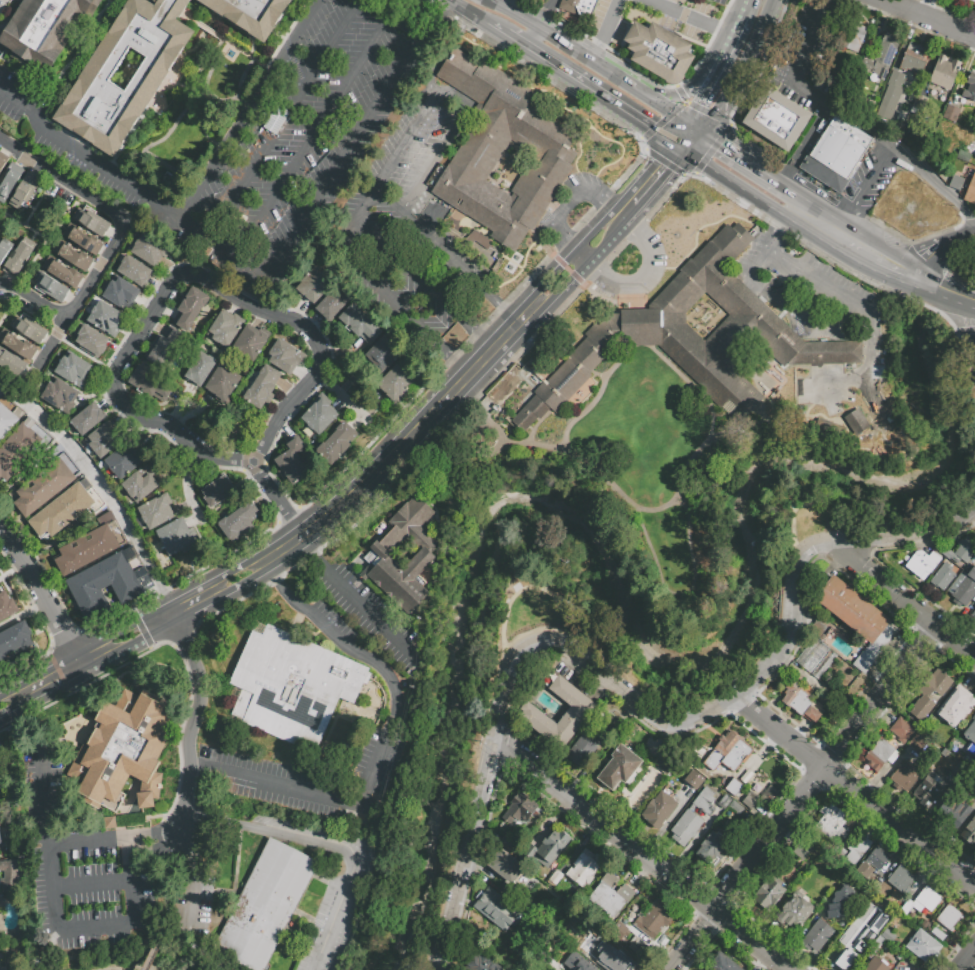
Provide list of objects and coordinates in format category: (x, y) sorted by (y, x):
building: (972, 0)
road: (768, 1)
road: (771, 1)
parking lot: (718, 2)
parking lot: (1, 3)
parking lot: (548, 4)
road: (552, 4)
building: (577, 7)
road: (748, 8)
road: (472, 9)
building: (250, 14)
road: (766, 14)
road: (547, 16)
parking lot: (682, 16)
road: (692, 17)
road: (932, 17)
parking lot: (608, 23)
road: (497, 26)
road: (604, 28)
building: (42, 29)
road: (537, 35)
building: (853, 36)
road: (734, 39)
road: (576, 45)
road: (449, 48)
building: (658, 51)
building: (880, 58)
parking lot: (805, 59)
building: (913, 61)
road: (744, 63)
building: (155, 69)
building: (943, 72)
road: (590, 86)
building: (970, 86)
road: (692, 88)
road: (804, 90)
road: (706, 92)
building: (891, 94)
traffic signals: (700, 104)
road: (670, 109)
road: (252, 110)
building: (949, 112)
road: (715, 115)
road: (286, 120)
building: (773, 121)
traffic signals: (650, 125)
road: (696, 127)
road: (682, 131)
road: (316, 137)
parking lot: (272, 140)
road: (697, 142)
road: (405, 143)
traffic signals: (720, 143)
road: (803, 144)
road: (440, 145)
road: (721, 145)
road: (682, 146)
building: (550, 149)
building: (836, 153)
building: (2, 163)
road: (748, 163)
traffic signals: (672, 171)
road: (770, 178)
road: (664, 179)
parking lot: (870, 179)
building: (9, 181)
road: (936, 182)
building: (956, 182)
road: (744, 188)
building: (970, 190)
parking lot: (816, 191)
road: (866, 191)
building: (25, 192)
road: (627, 196)
road: (793, 201)
road: (569, 205)
road: (110, 209)
road: (632, 216)
road: (355, 219)
building: (92, 222)
road: (777, 228)
parking lot: (410, 233)
road: (839, 234)
road: (45, 235)
building: (83, 239)
road: (958, 240)
road: (607, 242)
building: (4, 248)
building: (150, 249)
building: (72, 255)
building: (18, 258)
road: (28, 262)
road: (926, 262)
road: (274, 265)
road: (892, 265)
building: (135, 270)
building: (61, 271)
road: (808, 273)
road: (554, 274)
road: (409, 275)
road: (178, 277)
road: (642, 277)
building: (50, 285)
building: (313, 285)
road: (564, 287)
road: (936, 290)
building: (121, 292)
road: (30, 297)
building: (332, 304)
building: (190, 307)
road: (968, 307)
road: (504, 310)
road: (804, 317)
building: (106, 318)
building: (360, 324)
building: (26, 326)
building: (225, 328)
road: (968, 329)
building: (693, 335)
road: (480, 339)
building: (91, 340)
building: (250, 342)
road: (48, 344)
building: (16, 345)
building: (164, 347)
road: (76, 352)
building: (383, 353)
building: (285, 356)
road: (457, 360)
building: (11, 363)
building: (201, 368)
building: (73, 369)
building: (802, 370)
building: (223, 381)
road: (865, 381)
building: (150, 383)
building: (395, 383)
building: (263, 387)
building: (0, 392)
building: (60, 394)
road: (336, 394)
building: (320, 415)
building: (87, 418)
building: (8, 419)
building: (855, 421)
park: (234, 429)
building: (102, 439)
building: (880, 439)
building: (337, 442)
building: (17, 447)
road: (245, 460)
building: (123, 461)
building: (292, 462)
road: (368, 476)
building: (139, 484)
building: (43, 487)
road: (101, 487)
building: (217, 490)
road: (272, 492)
building: (66, 509)
building: (155, 512)
building: (105, 517)
building: (240, 520)
building: (177, 536)
road: (309, 543)
building: (85, 549)
building: (960, 551)
building: (402, 554)
building: (922, 563)
road: (270, 570)
building: (943, 576)
building: (109, 582)
building: (963, 587)
road: (42, 595)
road: (902, 601)
park: (640, 603)
building: (6, 606)
road: (364, 606)
building: (854, 611)
building: (973, 614)
building: (817, 628)
building: (822, 637)
road: (126, 639)
building: (17, 647)
building: (880, 650)
building: (812, 656)
building: (824, 665)
road: (42, 685)
building: (292, 685)
building: (930, 693)
road: (633, 701)
building: (801, 703)
building: (955, 706)
road: (2, 707)
building: (576, 714)
road: (191, 721)
building: (900, 729)
building: (971, 733)
building: (918, 742)
building: (581, 750)
building: (124, 751)
road: (378, 751)
building: (728, 752)
building: (881, 753)
building: (4, 760)
building: (666, 761)
building: (619, 767)
building: (740, 774)
building: (746, 777)
building: (904, 777)
building: (694, 778)
building: (722, 781)
building: (0, 782)
building: (733, 787)
building: (755, 787)
building: (928, 790)
road: (854, 793)
road: (802, 799)
building: (704, 801)
building: (724, 802)
building: (748, 802)
building: (518, 808)
building: (949, 808)
building: (658, 809)
building: (736, 809)
building: (350, 814)
building: (109, 821)
building: (832, 821)
building: (963, 821)
building: (686, 827)
road: (51, 832)
road: (155, 835)
building: (971, 837)
building: (0, 842)
road: (327, 844)
building: (509, 846)
building: (551, 847)
building: (802, 849)
building: (856, 849)
building: (712, 850)
building: (529, 852)
road: (639, 856)
building: (877, 858)
building: (506, 866)
building: (583, 867)
building: (864, 869)
building: (896, 876)
road: (173, 878)
building: (554, 878)
road: (93, 879)
building: (904, 882)
building: (9, 883)
building: (604, 889)
building: (769, 892)
building: (618, 900)
building: (922, 901)
building: (838, 903)
building: (266, 905)
building: (796, 908)
building: (498, 909)
building: (948, 917)
building: (653, 919)
road: (96, 924)
building: (622, 929)
building: (586, 930)
building: (937, 933)
building: (817, 934)
building: (886, 934)
building: (857, 937)
building: (870, 938)
building: (927, 940)
building: (878, 942)
road: (153, 946)
building: (884, 948)
building: (920, 950)
park: (144, 954)
building: (571, 960)
building: (623, 960)
road: (967, 960)
building: (481, 962)
building: (722, 964)
building: (876, 965)
building: (741, 969)

